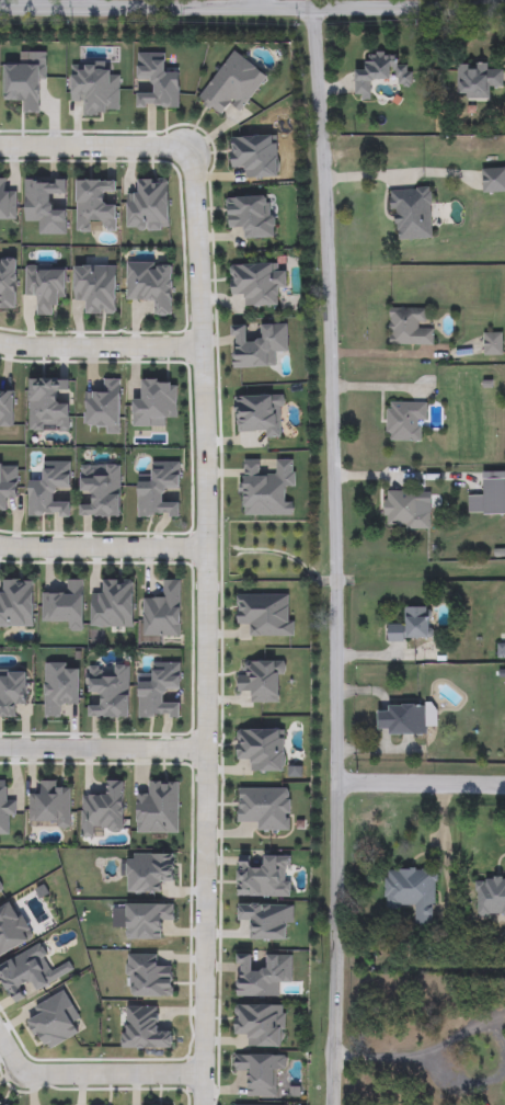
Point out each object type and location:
road: (3, 4)
road: (81, 4)
road: (259, 4)
road: (252, 9)
building: (380, 72)
building: (26, 79)
building: (478, 79)
building: (157, 82)
building: (232, 86)
building: (97, 87)
road: (92, 147)
building: (255, 156)
building: (493, 180)
building: (7, 201)
building: (45, 205)
building: (148, 205)
building: (94, 206)
building: (411, 213)
building: (251, 216)
building: (256, 283)
building: (8, 284)
building: (46, 286)
building: (150, 286)
building: (95, 288)
building: (408, 327)
building: (493, 343)
building: (257, 346)
road: (100, 350)
building: (156, 403)
building: (104, 405)
building: (7, 409)
building: (405, 421)
building: (8, 483)
building: (49, 490)
building: (101, 490)
building: (158, 490)
building: (489, 494)
building: (405, 510)
road: (102, 549)
road: (335, 556)
building: (16, 603)
building: (65, 605)
building: (112, 605)
building: (162, 612)
building: (266, 614)
building: (412, 625)
road: (205, 628)
building: (262, 681)
building: (108, 690)
building: (159, 691)
building: (12, 692)
building: (403, 720)
building: (262, 749)
road: (102, 750)
road: (421, 785)
building: (49, 806)
building: (264, 807)
building: (104, 808)
building: (158, 809)
building: (0, 891)
building: (411, 891)
building: (490, 897)
building: (12, 929)
building: (147, 977)
building: (261, 1025)
building: (144, 1028)
road: (402, 1057)
road: (90, 1071)
building: (260, 1072)
building: (2, 1103)

